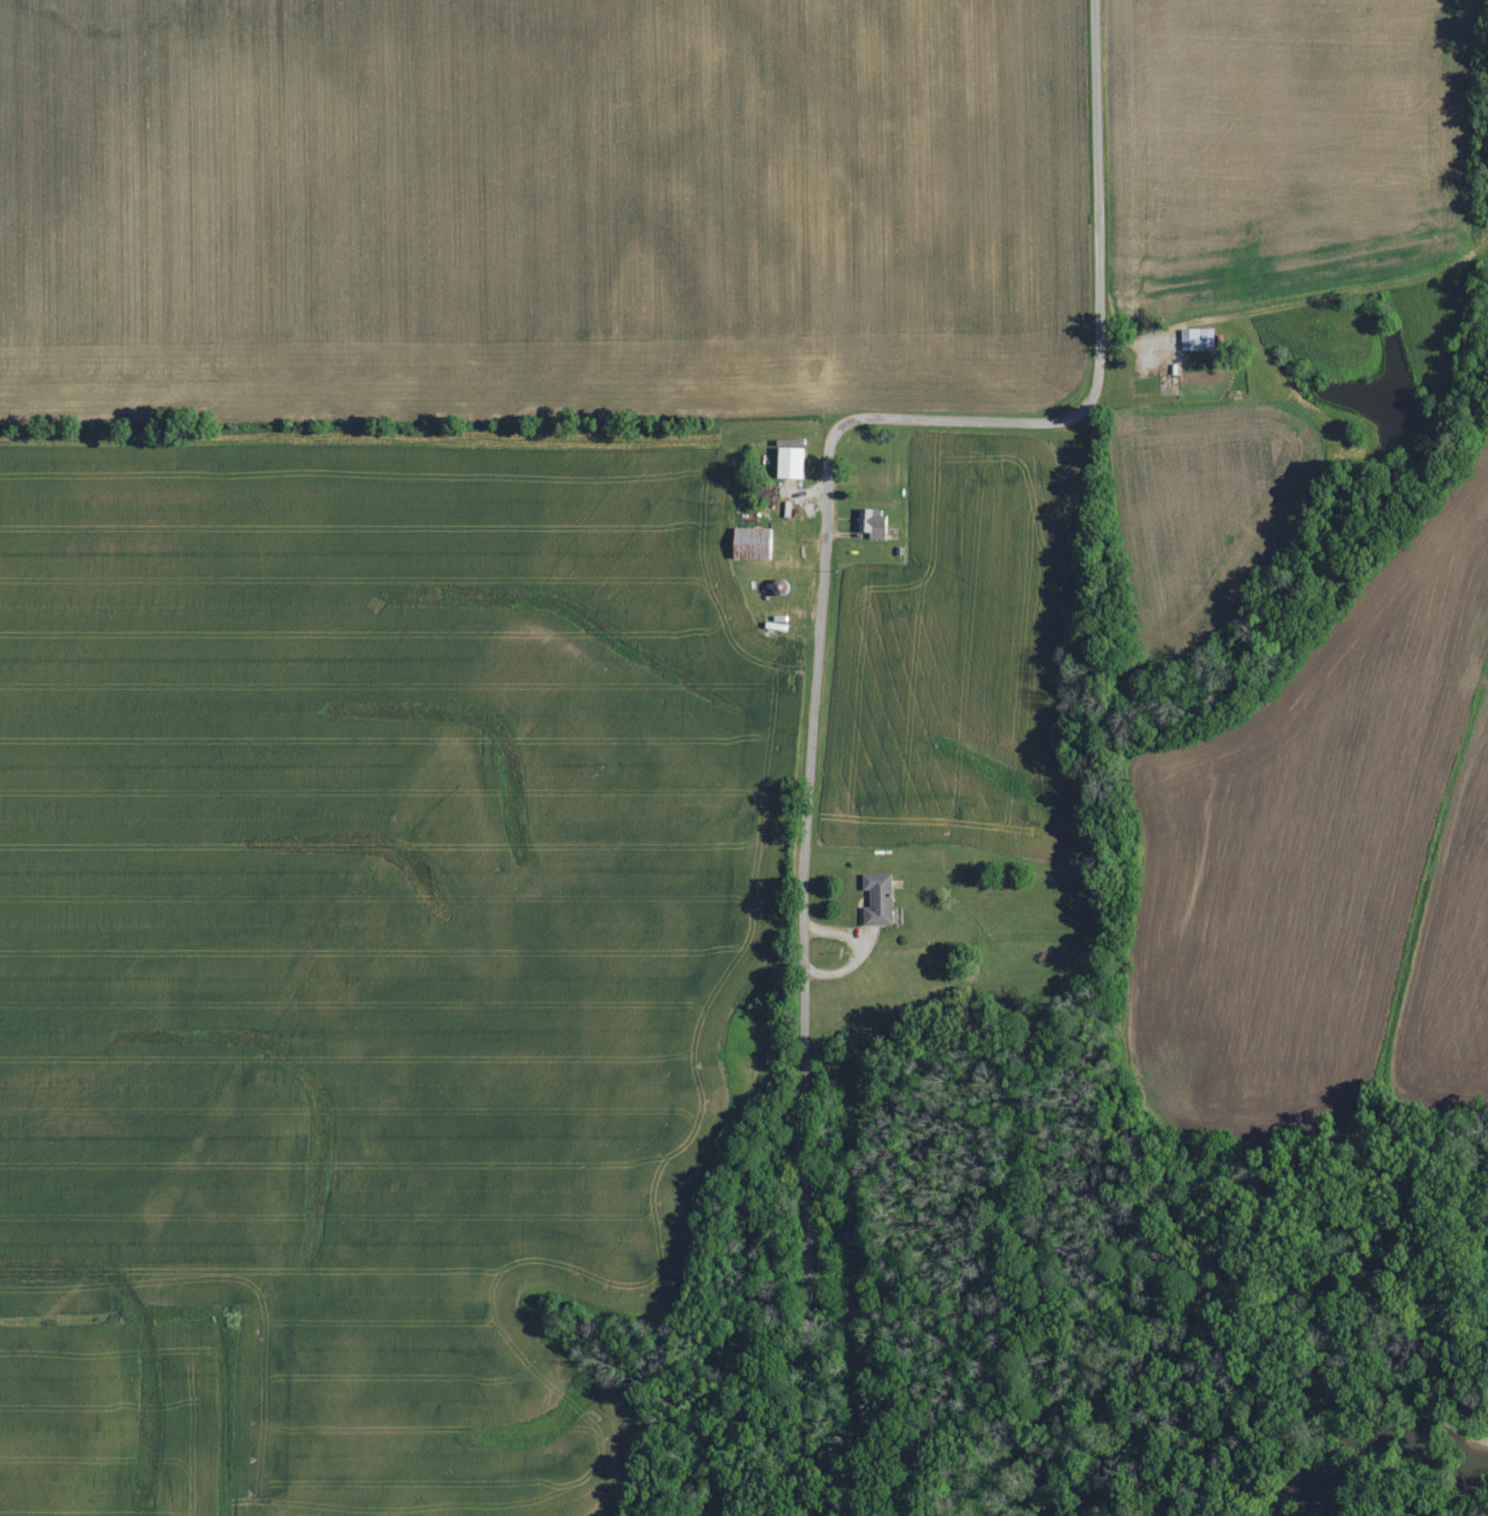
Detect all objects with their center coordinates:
building: (1199, 339)
building: (792, 463)
building: (875, 523)
building: (754, 544)
road: (809, 662)
building: (881, 900)
river: (1389, 1467)

